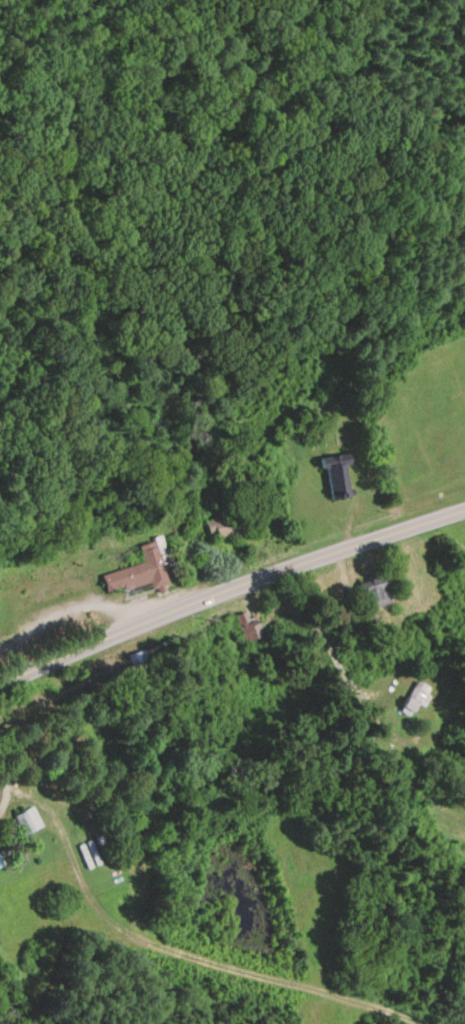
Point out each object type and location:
building: (338, 478)
building: (226, 527)
building: (139, 572)
building: (377, 592)
road: (229, 595)
building: (13, 605)
building: (249, 626)
building: (140, 664)
building: (416, 698)
building: (28, 821)

